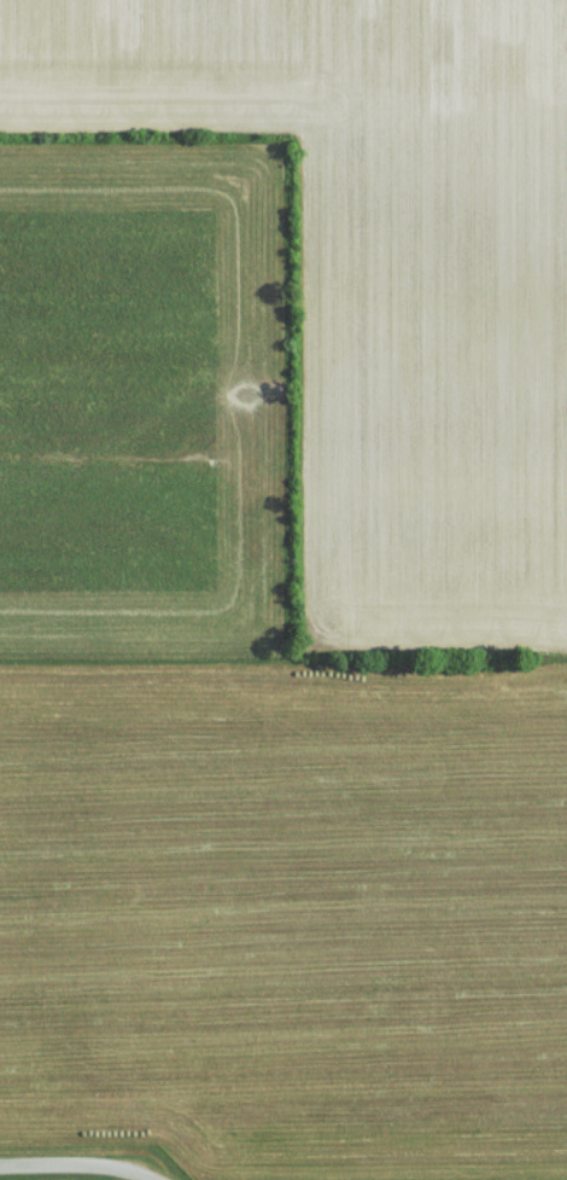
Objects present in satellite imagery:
road: (78, 1166)

